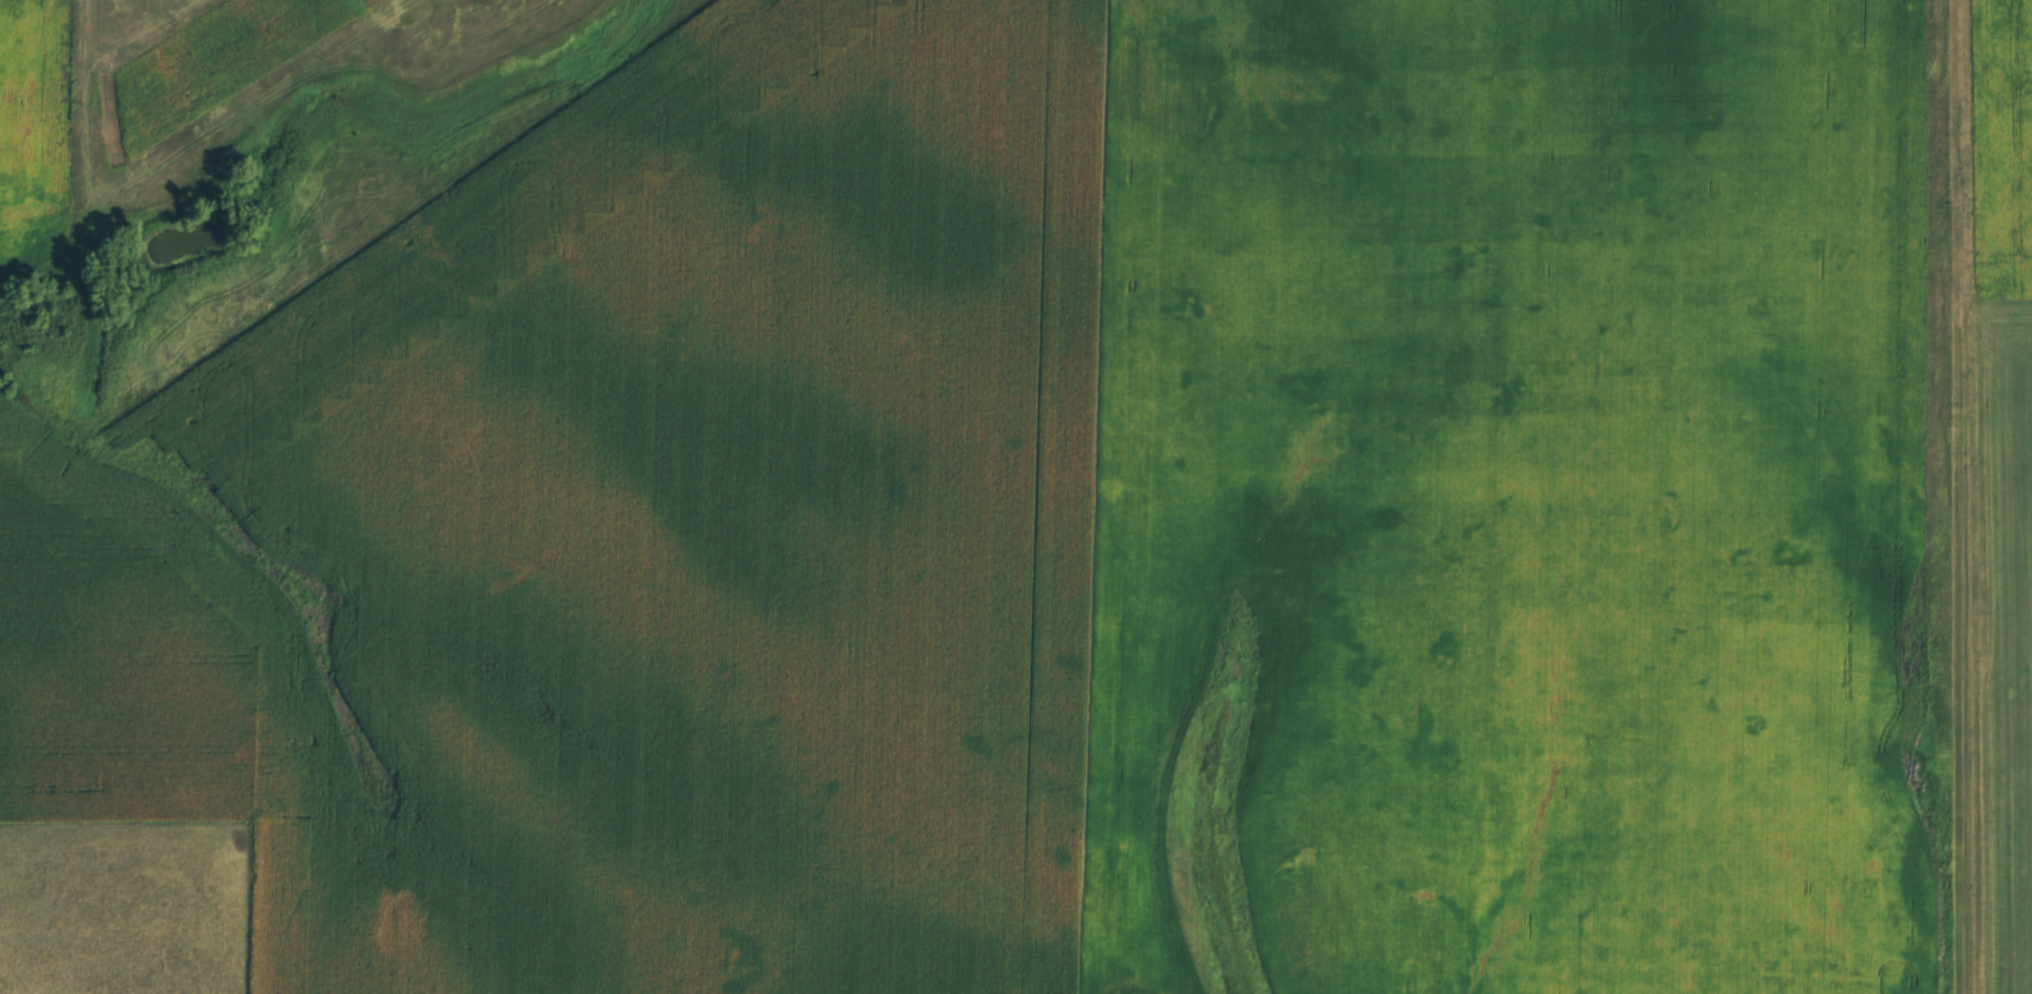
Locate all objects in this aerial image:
road: (1982, 496)
road: (108, 812)

